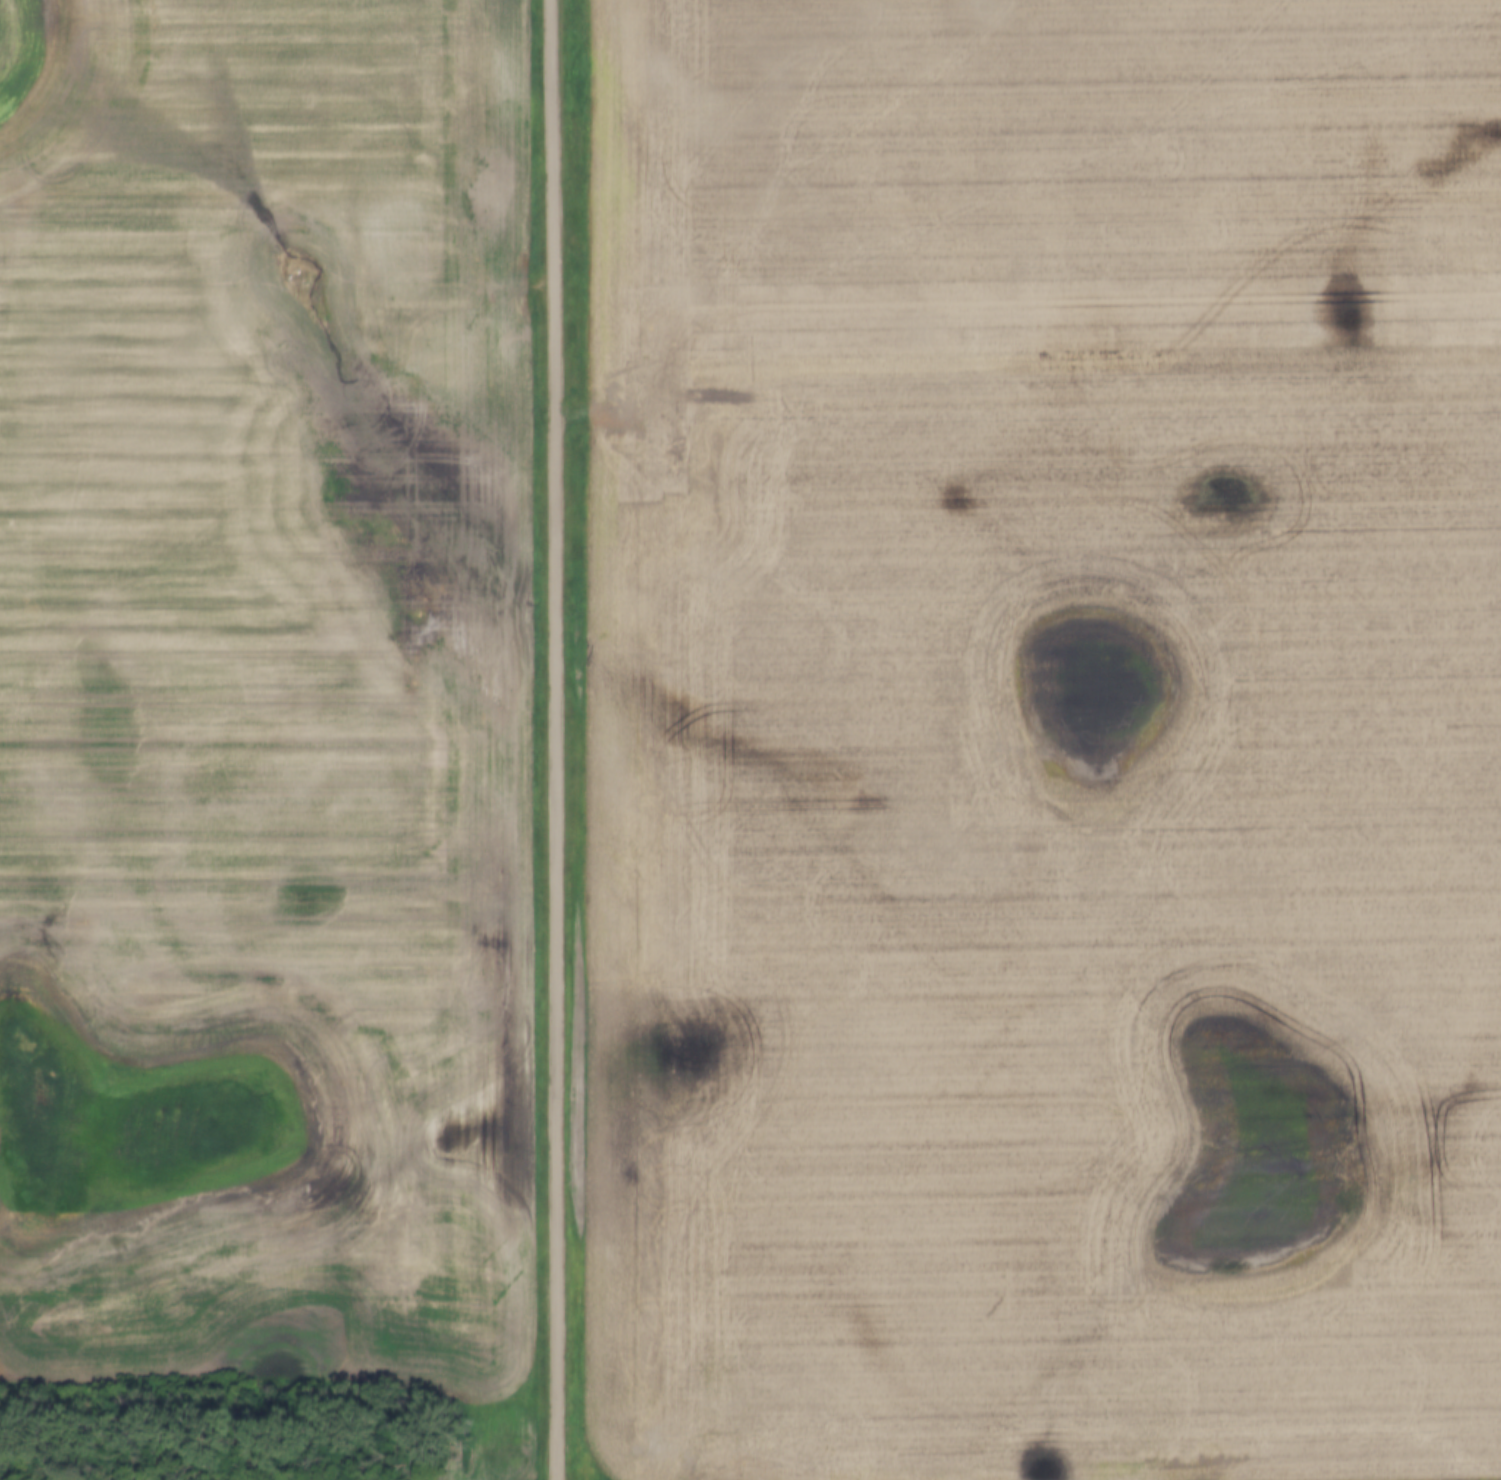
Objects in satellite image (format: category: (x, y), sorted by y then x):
road: (552, 739)

